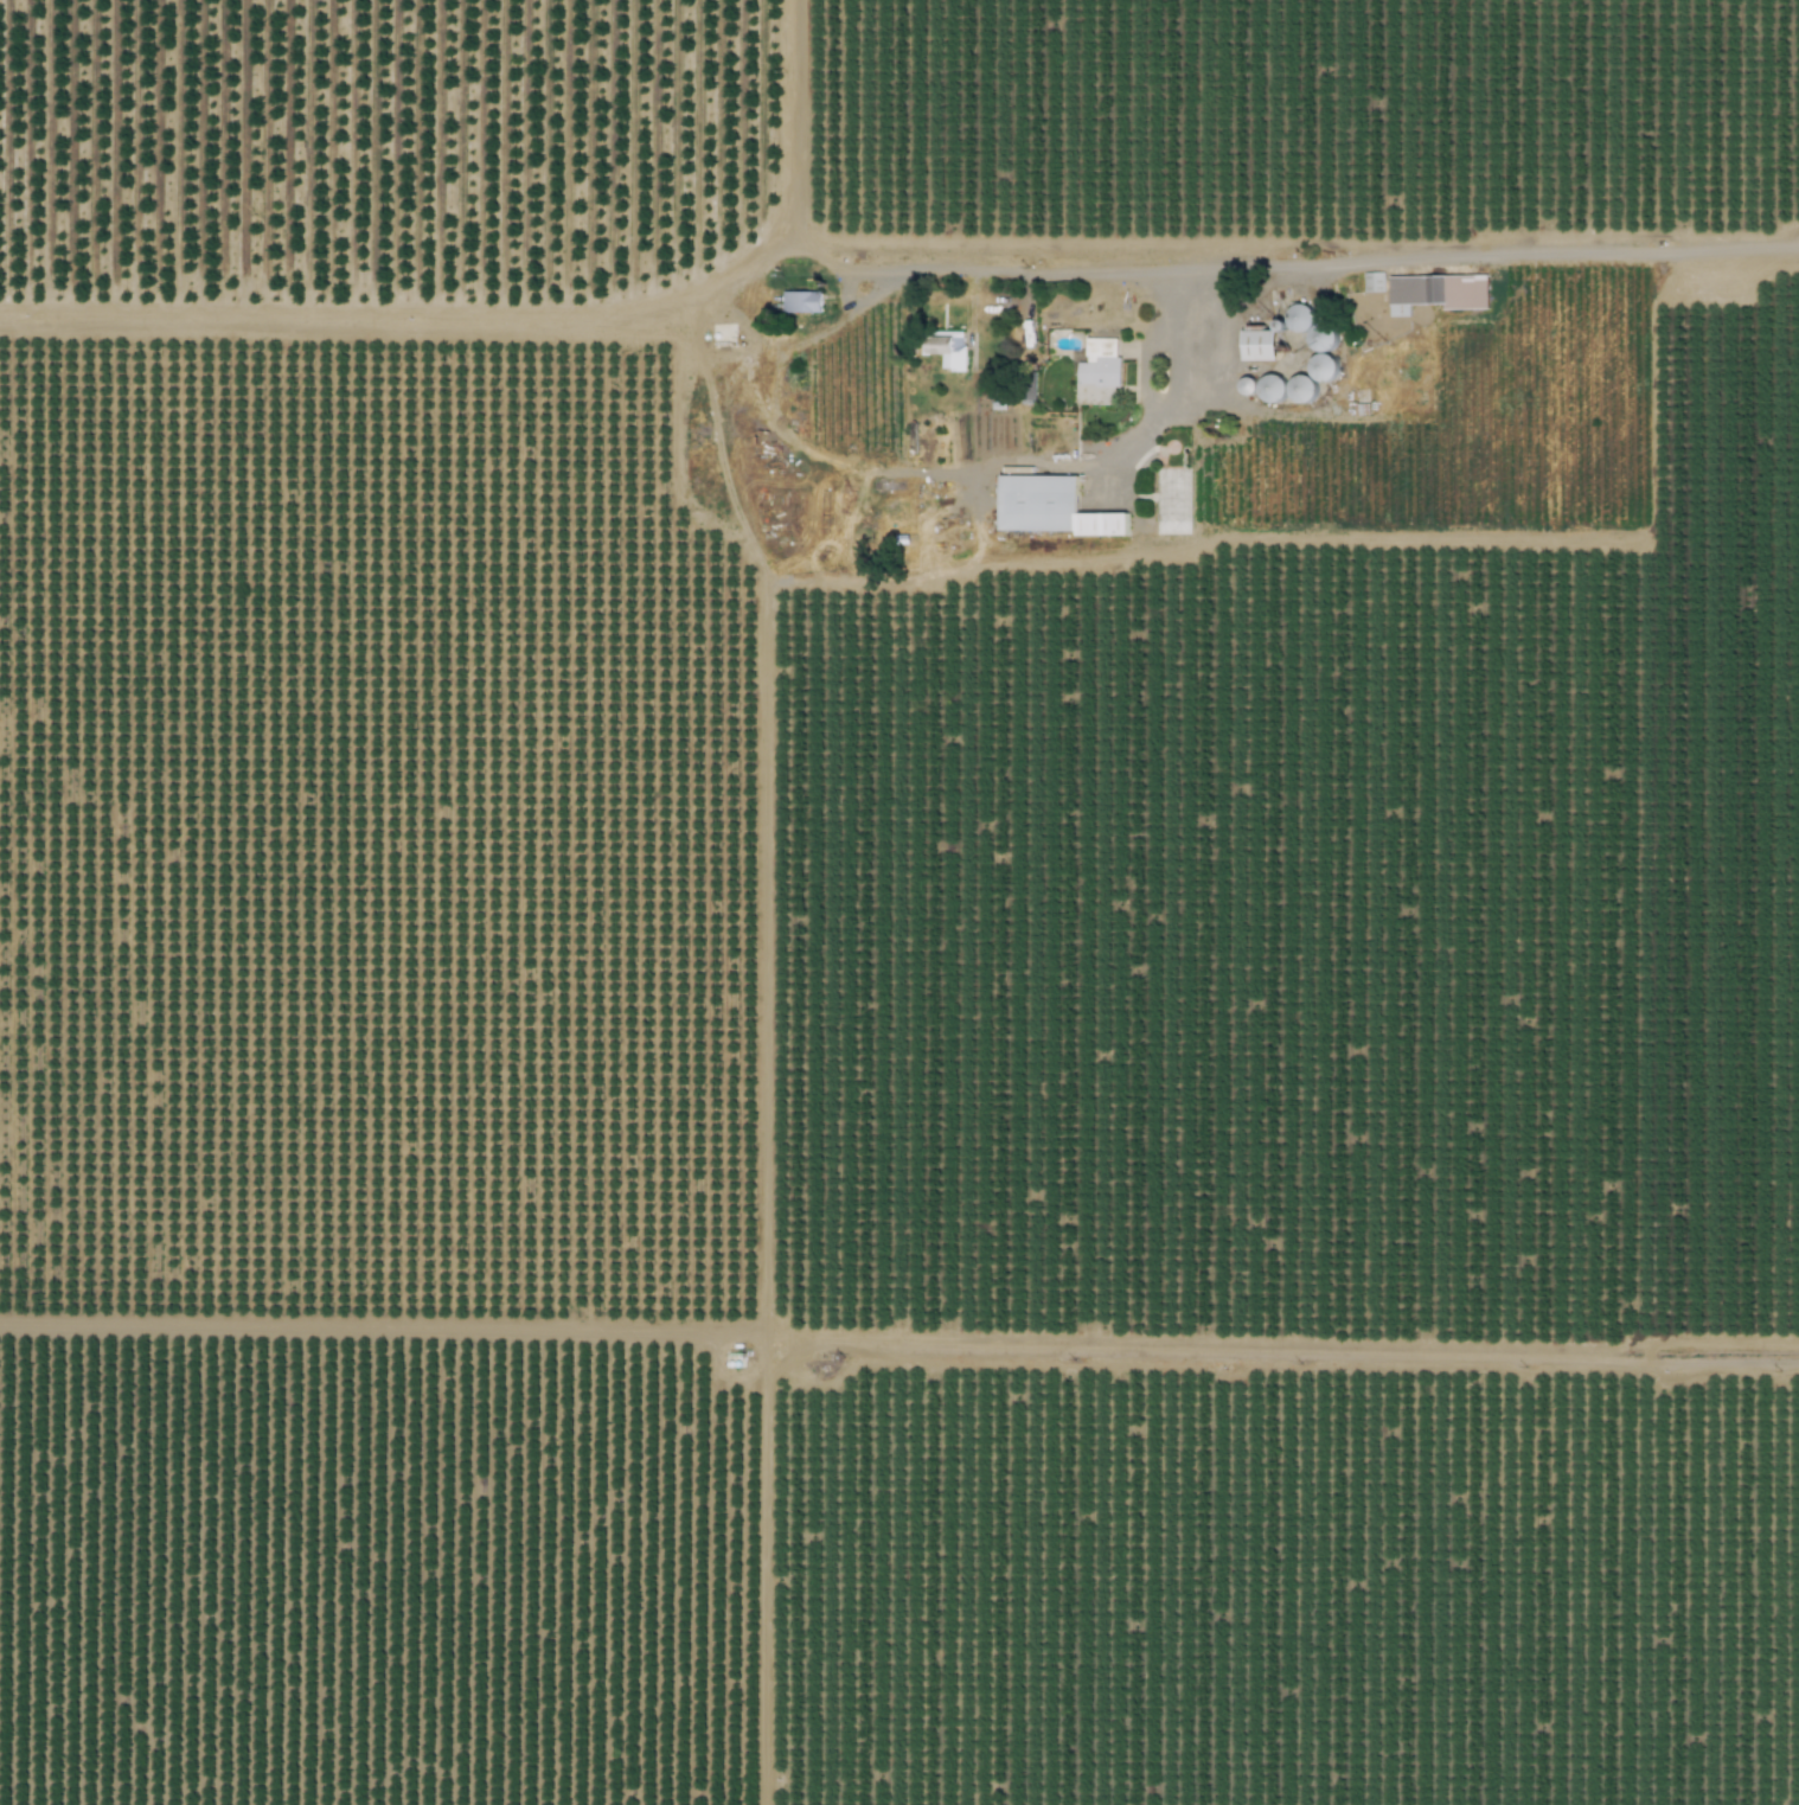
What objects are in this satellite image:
road: (826, 261)
road: (1334, 267)
building: (1372, 281)
building: (1436, 292)
building: (801, 300)
building: (1297, 320)
road: (526, 325)
building: (1320, 337)
building: (1259, 344)
road: (704, 348)
building: (947, 348)
building: (1099, 371)
road: (773, 378)
road: (748, 412)
road: (680, 457)
road: (1105, 461)
building: (1171, 500)
building: (1051, 506)

